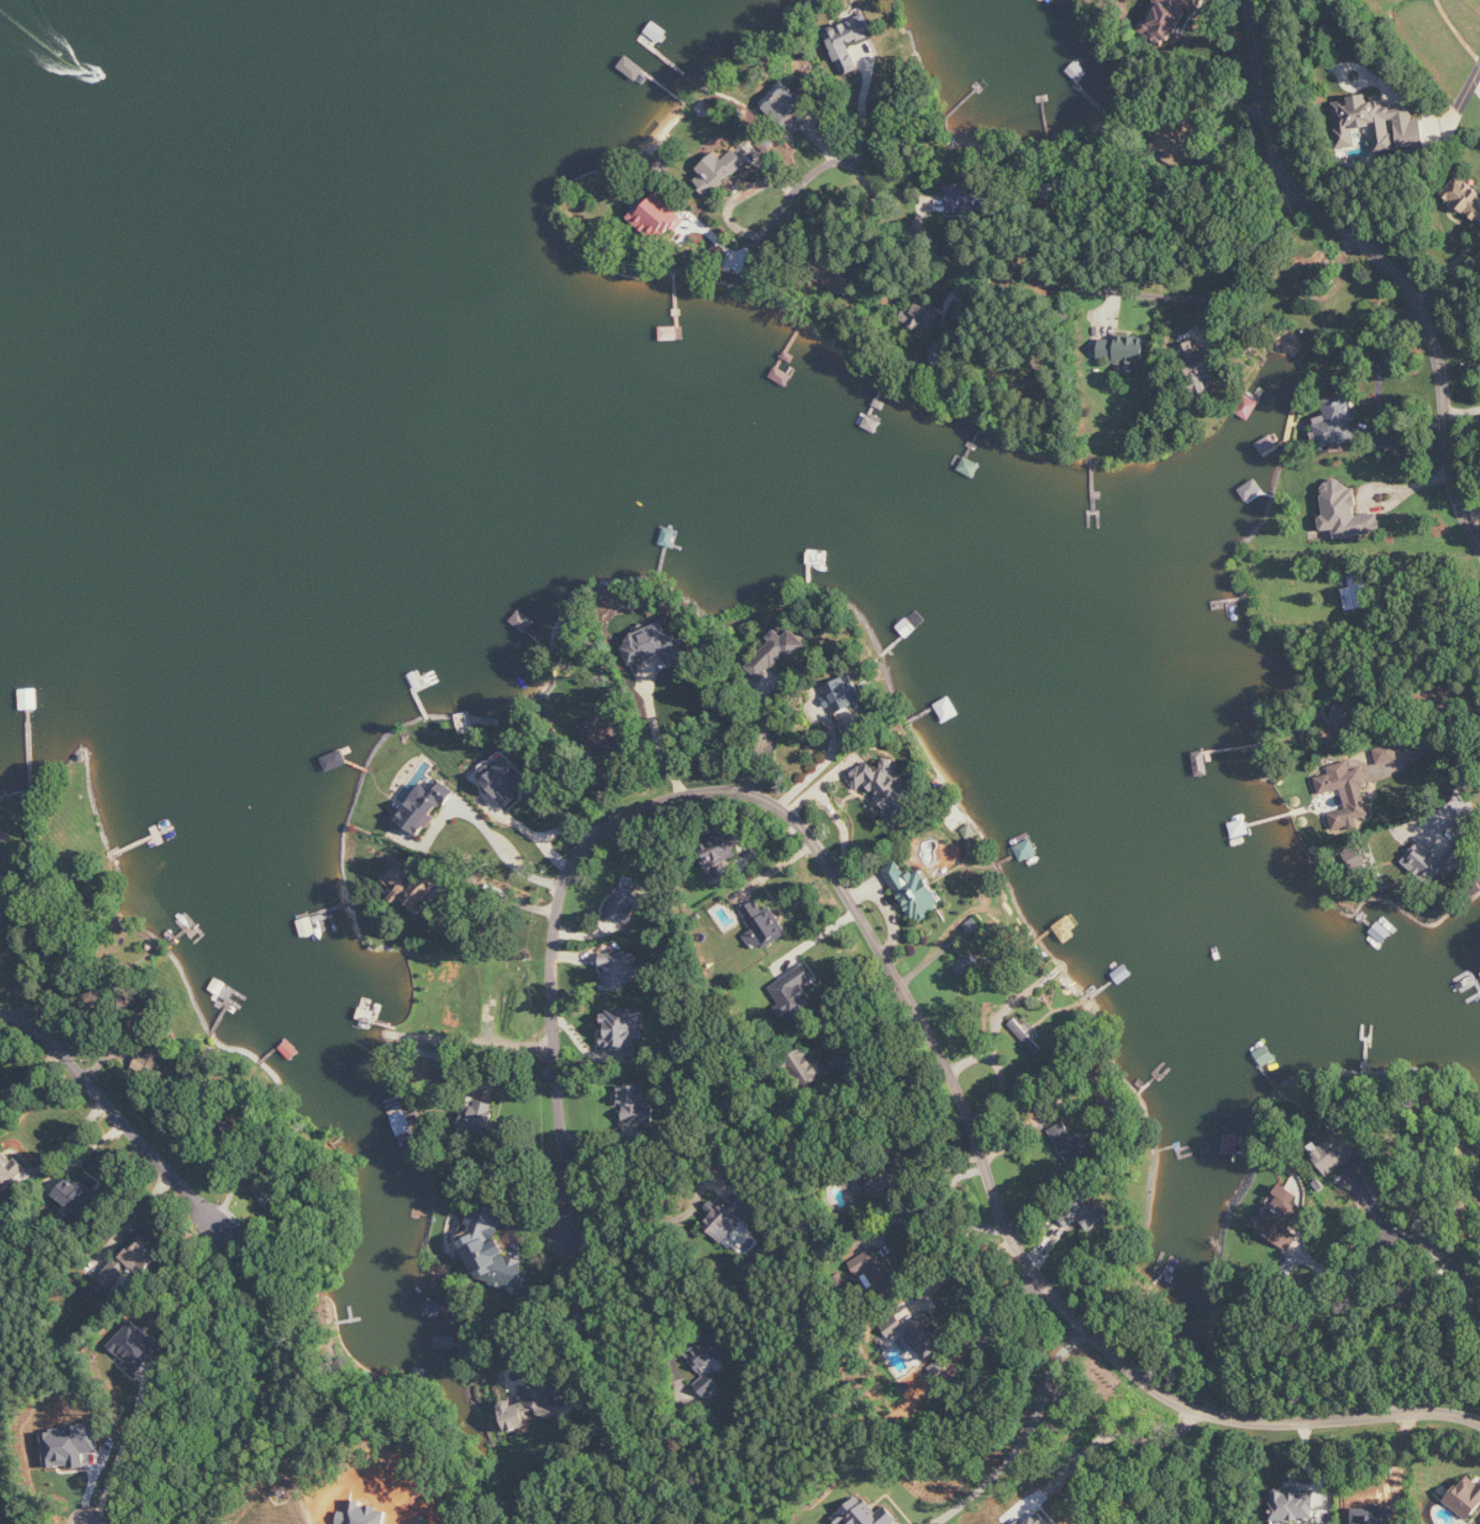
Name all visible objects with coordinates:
building: (1170, 17)
road: (1457, 30)
road: (1310, 40)
building: (848, 41)
airport taxiway: (1469, 90)
building: (784, 102)
road: (864, 114)
building: (1378, 123)
airport taxiway: (1446, 127)
building: (1172, 146)
building: (719, 170)
road: (741, 195)
road: (789, 196)
building: (969, 197)
building: (1465, 197)
building: (658, 217)
road: (1384, 262)
road: (1448, 270)
building: (836, 279)
road: (1081, 287)
building: (922, 319)
building: (1124, 350)
road: (1378, 392)
building: (1244, 405)
road: (1461, 412)
building: (1337, 420)
building: (1346, 511)
road: (1474, 516)
building: (1357, 591)
building: (656, 645)
building: (775, 654)
building: (842, 695)
building: (1343, 714)
building: (595, 731)
road: (658, 733)
road: (763, 738)
road: (1464, 740)
road: (1420, 748)
building: (1387, 754)
road: (827, 757)
building: (503, 778)
building: (885, 787)
building: (1346, 793)
building: (423, 809)
road: (480, 820)
road: (566, 828)
road: (529, 830)
building: (718, 856)
building: (1355, 857)
building: (1433, 863)
building: (724, 876)
building: (0, 880)
building: (915, 891)
road: (499, 900)
building: (627, 902)
building: (766, 922)
road: (23, 932)
building: (965, 965)
building: (620, 970)
road: (898, 987)
building: (794, 991)
road: (1005, 1008)
building: (619, 1032)
building: (1024, 1034)
road: (869, 1039)
building: (803, 1066)
building: (159, 1067)
road: (1002, 1074)
building: (636, 1104)
road: (114, 1109)
building: (478, 1117)
building: (1067, 1140)
building: (1335, 1151)
building: (8, 1171)
building: (882, 1174)
road: (937, 1174)
building: (78, 1200)
road: (929, 1206)
building: (1089, 1212)
road: (625, 1216)
building: (729, 1217)
building: (1280, 1218)
road: (135, 1220)
building: (493, 1250)
building: (132, 1263)
road: (1454, 1265)
road: (1346, 1270)
building: (877, 1272)
road: (951, 1274)
road: (647, 1281)
road: (586, 1295)
road: (1356, 1332)
building: (923, 1337)
building: (707, 1360)
building: (533, 1403)
road: (1021, 1442)
road: (1097, 1442)
road: (122, 1454)
building: (1466, 1497)
building: (1294, 1506)
building: (864, 1514)
road: (334, 1518)
building: (1039, 1519)
building: (1019, 1522)

